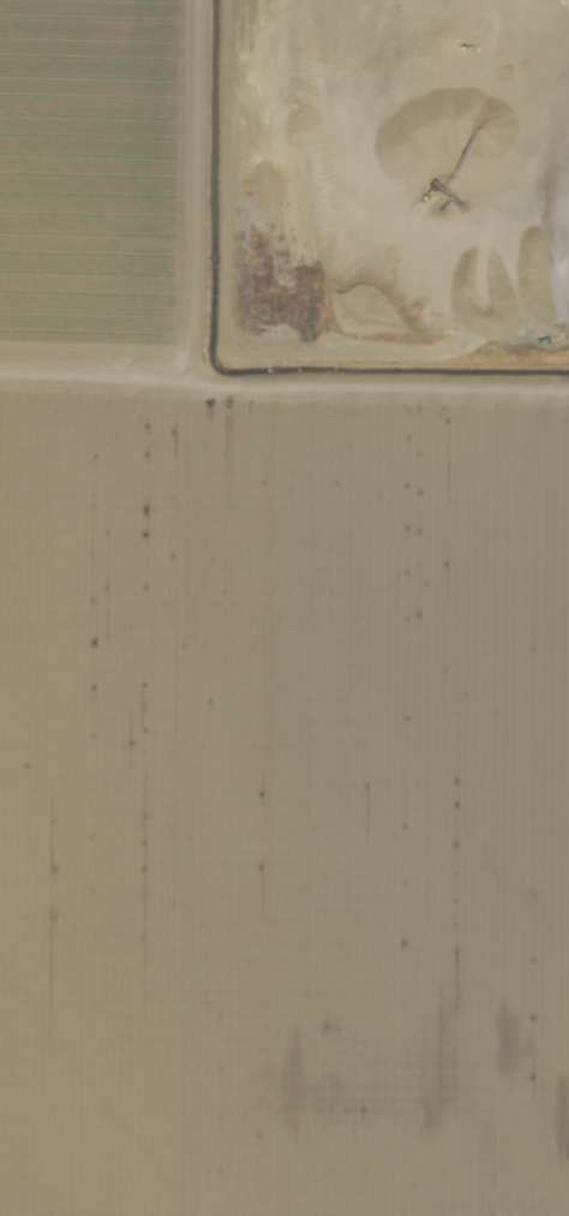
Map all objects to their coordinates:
road: (568, 74)
road: (283, 386)

